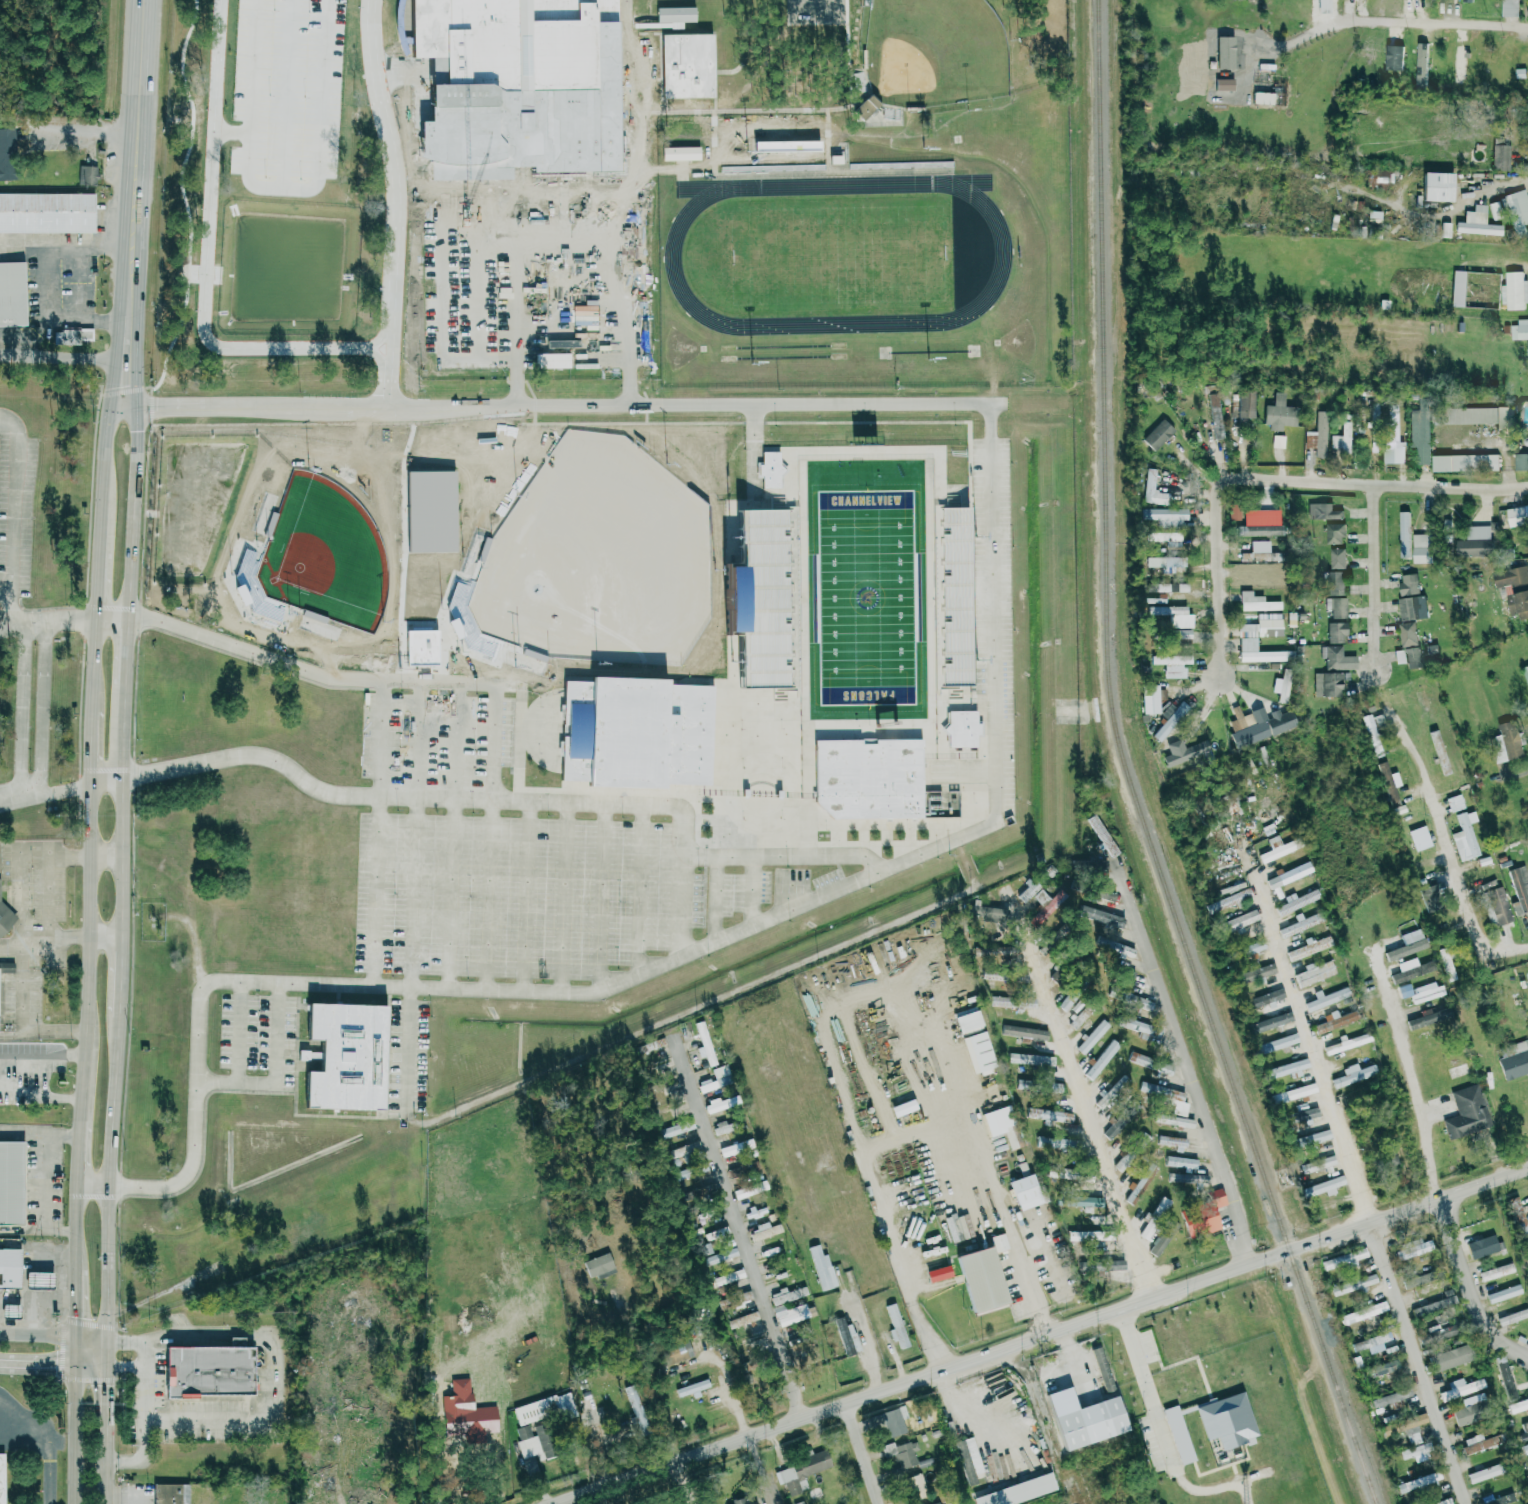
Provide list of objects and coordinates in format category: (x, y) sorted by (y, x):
building: (1472, 0)
building: (1324, 6)
building: (1509, 8)
building: (677, 14)
road: (1399, 22)
building: (511, 41)
park: (934, 51)
building: (1224, 52)
building: (1393, 57)
road: (140, 65)
building: (688, 65)
building: (1420, 65)
road: (402, 72)
road: (288, 95)
building: (1262, 98)
road: (627, 100)
building: (865, 107)
road: (68, 125)
road: (233, 130)
building: (681, 152)
building: (7, 154)
building: (1501, 157)
building: (86, 175)
building: (1379, 178)
road: (394, 185)
building: (1437, 187)
road: (285, 190)
building: (1518, 211)
building: (47, 212)
building: (1373, 220)
road: (133, 223)
building: (1477, 223)
road: (1373, 234)
road: (628, 245)
stadium: (867, 247)
road: (93, 251)
track: (1002, 254)
park: (835, 257)
road: (206, 267)
road: (593, 278)
road: (442, 279)
road: (514, 279)
road: (552, 279)
road: (477, 280)
building: (1457, 288)
building: (1514, 292)
building: (12, 294)
road: (60, 311)
building: (1519, 330)
building: (70, 336)
road: (381, 336)
building: (1527, 347)
road: (64, 348)
road: (571, 356)
road: (127, 360)
road: (515, 381)
road: (390, 392)
building: (1244, 403)
road: (564, 404)
building: (1279, 413)
building: (1215, 415)
building: (1465, 415)
building: (1391, 423)
building: (1157, 434)
building: (1317, 435)
building: (1419, 435)
building: (1342, 438)
building: (1278, 441)
building: (1521, 460)
building: (1464, 462)
park: (423, 467)
building: (770, 468)
road: (945, 468)
road: (102, 472)
road: (1372, 481)
building: (1153, 489)
road: (14, 505)
road: (130, 511)
building: (1234, 511)
building: (1323, 511)
building: (1517, 514)
building: (1168, 515)
building: (1260, 516)
building: (1334, 533)
building: (1404, 533)
building: (1166, 537)
building: (1475, 541)
park: (622, 546)
building: (1422, 548)
building: (1259, 552)
park: (304, 555)
building: (1337, 557)
building: (1165, 562)
road: (1375, 572)
building: (1511, 579)
road: (1218, 581)
road: (97, 582)
building: (1335, 582)
building: (1408, 583)
building: (1171, 587)
park: (868, 595)
building: (951, 595)
building: (766, 597)
building: (1155, 600)
building: (1256, 602)
building: (1518, 603)
building: (1336, 606)
building: (1412, 607)
road: (10, 611)
building: (1172, 615)
building: (1291, 618)
road: (46, 620)
stadium: (845, 628)
building: (1336, 632)
building: (1407, 633)
building: (1182, 635)
building: (1247, 643)
road: (124, 653)
building: (1413, 657)
building: (1336, 658)
road: (94, 663)
building: (1172, 664)
road: (292, 665)
building: (1526, 671)
building: (1327, 684)
building: (1281, 685)
building: (1150, 698)
building: (1424, 706)
road: (42, 710)
road: (21, 711)
building: (1170, 721)
building: (1258, 724)
building: (962, 728)
building: (636, 732)
building: (1371, 733)
road: (381, 738)
building: (1506, 742)
road: (958, 746)
road: (93, 747)
building: (1439, 752)
building: (1187, 754)
road: (493, 759)
railway: (1121, 772)
road: (295, 774)
building: (869, 778)
road: (1518, 778)
building: (1389, 783)
building: (633, 791)
road: (46, 794)
building: (1454, 802)
road: (121, 810)
building: (1464, 838)
road: (743, 856)
building: (1095, 864)
building: (1288, 875)
building: (1036, 883)
building: (1231, 888)
building: (1519, 888)
building: (1100, 894)
building: (1429, 898)
building: (1229, 900)
building: (1295, 903)
building: (1495, 903)
building: (1046, 905)
road: (1468, 911)
building: (1100, 916)
building: (5, 918)
building: (1237, 921)
building: (1300, 925)
building: (1407, 944)
road: (11, 945)
building: (1116, 947)
building: (1254, 947)
building: (1309, 947)
road: (90, 951)
building: (1447, 963)
building: (6, 967)
building: (1411, 969)
building: (1122, 972)
building: (1315, 972)
building: (1254, 973)
road: (119, 975)
road: (600, 977)
road: (20, 984)
building: (1320, 985)
building: (1404, 990)
building: (1427, 991)
building: (1324, 998)
building: (1264, 1000)
building: (1012, 1002)
building: (1065, 1003)
building: (1139, 1003)
building: (1081, 1015)
building: (1428, 1017)
building: (1334, 1020)
building: (968, 1022)
building: (1269, 1022)
building: (1136, 1026)
road: (49, 1030)
road: (242, 1030)
building: (1024, 1032)
road: (7, 1034)
building: (1092, 1036)
road: (407, 1042)
building: (1277, 1043)
building: (1347, 1043)
building: (704, 1044)
building: (651, 1046)
road: (831, 1052)
building: (978, 1053)
road: (57, 1056)
building: (342, 1056)
road: (14, 1057)
road: (1314, 1057)
building: (1137, 1058)
building: (1038, 1059)
building: (1101, 1059)
building: (1513, 1059)
building: (1456, 1065)
building: (1163, 1067)
building: (1286, 1068)
road: (278, 1071)
building: (1353, 1074)
building: (719, 1077)
road: (29, 1078)
road: (1189, 1083)
building: (1052, 1087)
building: (1110, 1092)
building: (1294, 1093)
road: (60, 1096)
building: (1164, 1096)
building: (1466, 1112)
building: (1049, 1114)
building: (1300, 1115)
building: (1123, 1116)
road: (1092, 1117)
building: (1173, 1120)
building: (1003, 1125)
road: (195, 1128)
building: (675, 1129)
road: (40, 1133)
building: (1143, 1138)
building: (1313, 1138)
building: (1172, 1141)
building: (1059, 1142)
building: (729, 1150)
building: (684, 1152)
road: (79, 1153)
road: (1427, 1157)
building: (1120, 1162)
building: (1185, 1162)
building: (1318, 1164)
building: (698, 1168)
building: (1061, 1172)
road: (108, 1175)
building: (1085, 1177)
building: (1195, 1179)
building: (12, 1180)
road: (45, 1181)
building: (1139, 1184)
building: (1325, 1186)
building: (743, 1191)
building: (1025, 1191)
building: (1084, 1201)
building: (1161, 1207)
building: (1205, 1215)
building: (1519, 1218)
road: (38, 1228)
road: (77, 1228)
building: (1147, 1230)
building: (764, 1231)
building: (1091, 1237)
building: (1163, 1237)
building: (999, 1242)
road: (747, 1245)
building: (1482, 1246)
building: (1414, 1249)
road: (1056, 1252)
building: (720, 1256)
road: (1027, 1260)
building: (1343, 1260)
building: (598, 1264)
building: (1112, 1265)
building: (10, 1266)
building: (822, 1268)
building: (1496, 1272)
building: (937, 1273)
building: (727, 1277)
building: (41, 1278)
building: (980, 1279)
road: (1472, 1280)
building: (1414, 1281)
building: (1353, 1284)
building: (1504, 1293)
building: (785, 1294)
building: (1435, 1303)
building: (12, 1308)
building: (1364, 1312)
building: (791, 1313)
traffic signals: (76, 1314)
building: (893, 1314)
road: (76, 1316)
building: (1513, 1317)
building: (743, 1320)
road: (49, 1333)
building: (1439, 1334)
building: (846, 1336)
traffic signals: (120, 1339)
road: (121, 1339)
road: (1039, 1339)
building: (1372, 1343)
road: (867, 1344)
building: (676, 1351)
building: (803, 1351)
road: (142, 1354)
building: (1450, 1358)
road: (36, 1362)
road: (1077, 1362)
traffic signals: (55, 1363)
road: (87, 1363)
road: (121, 1364)
road: (1419, 1364)
building: (209, 1368)
building: (1386, 1368)
building: (1102, 1369)
road: (648, 1375)
building: (1505, 1377)
road: (100, 1383)
road: (1144, 1384)
traffic signals: (100, 1385)
building: (692, 1388)
building: (1461, 1388)
road: (146, 1393)
road: (731, 1396)
building: (1392, 1397)
building: (1009, 1403)
building: (1518, 1406)
building: (1469, 1408)
road: (272, 1413)
building: (465, 1414)
road: (970, 1415)
building: (891, 1420)
building: (1226, 1420)
building: (1089, 1423)
building: (1525, 1426)
building: (1413, 1428)
road: (73, 1433)
building: (1477, 1443)
building: (1525, 1449)
building: (1410, 1452)
building: (901, 1453)
road: (862, 1455)
building: (969, 1460)
building: (1030, 1460)
road: (100, 1467)
road: (762, 1470)
building: (800, 1470)
building: (1485, 1473)
building: (1, 1479)
road: (687, 1482)
building: (1419, 1482)
road: (344, 1486)
building: (916, 1486)
building: (1018, 1491)
building: (170, 1493)
building: (1500, 1498)
road: (564, 1501)
building: (740, 1501)
building: (1443, 1501)
building: (936, 1503)

